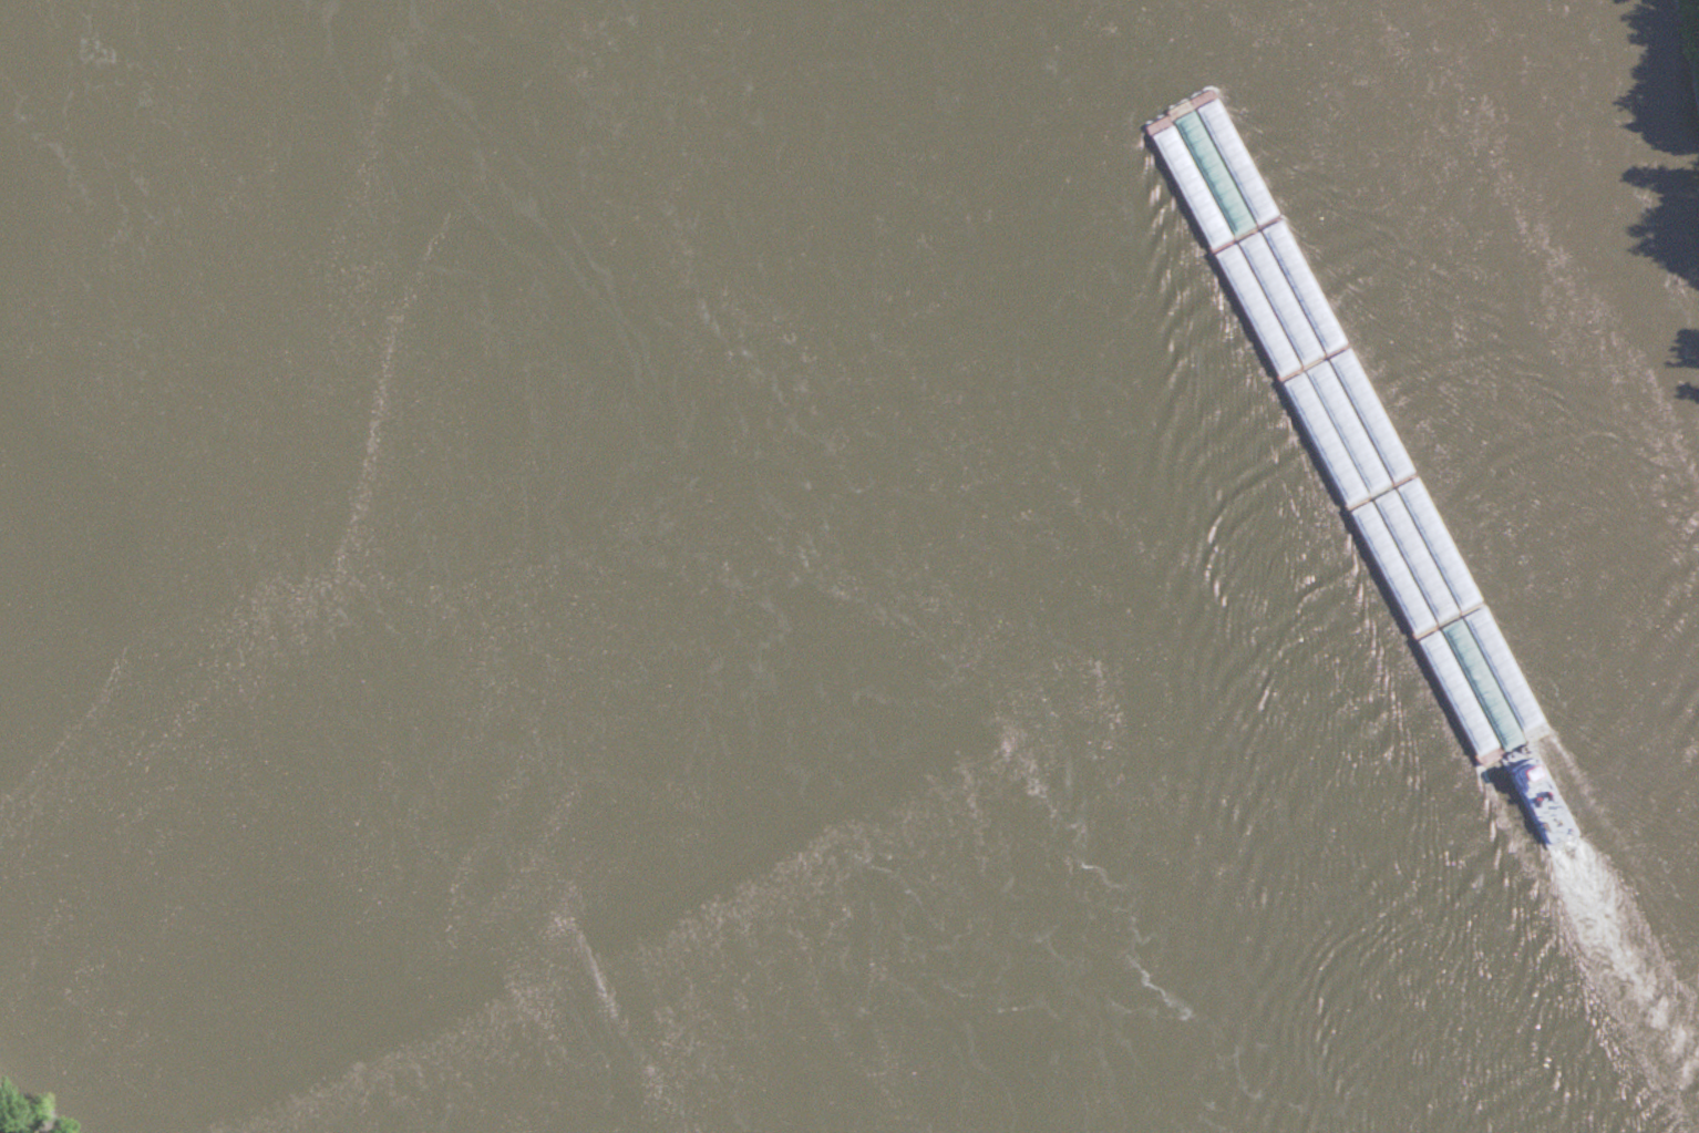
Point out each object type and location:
river: (803, 573)

